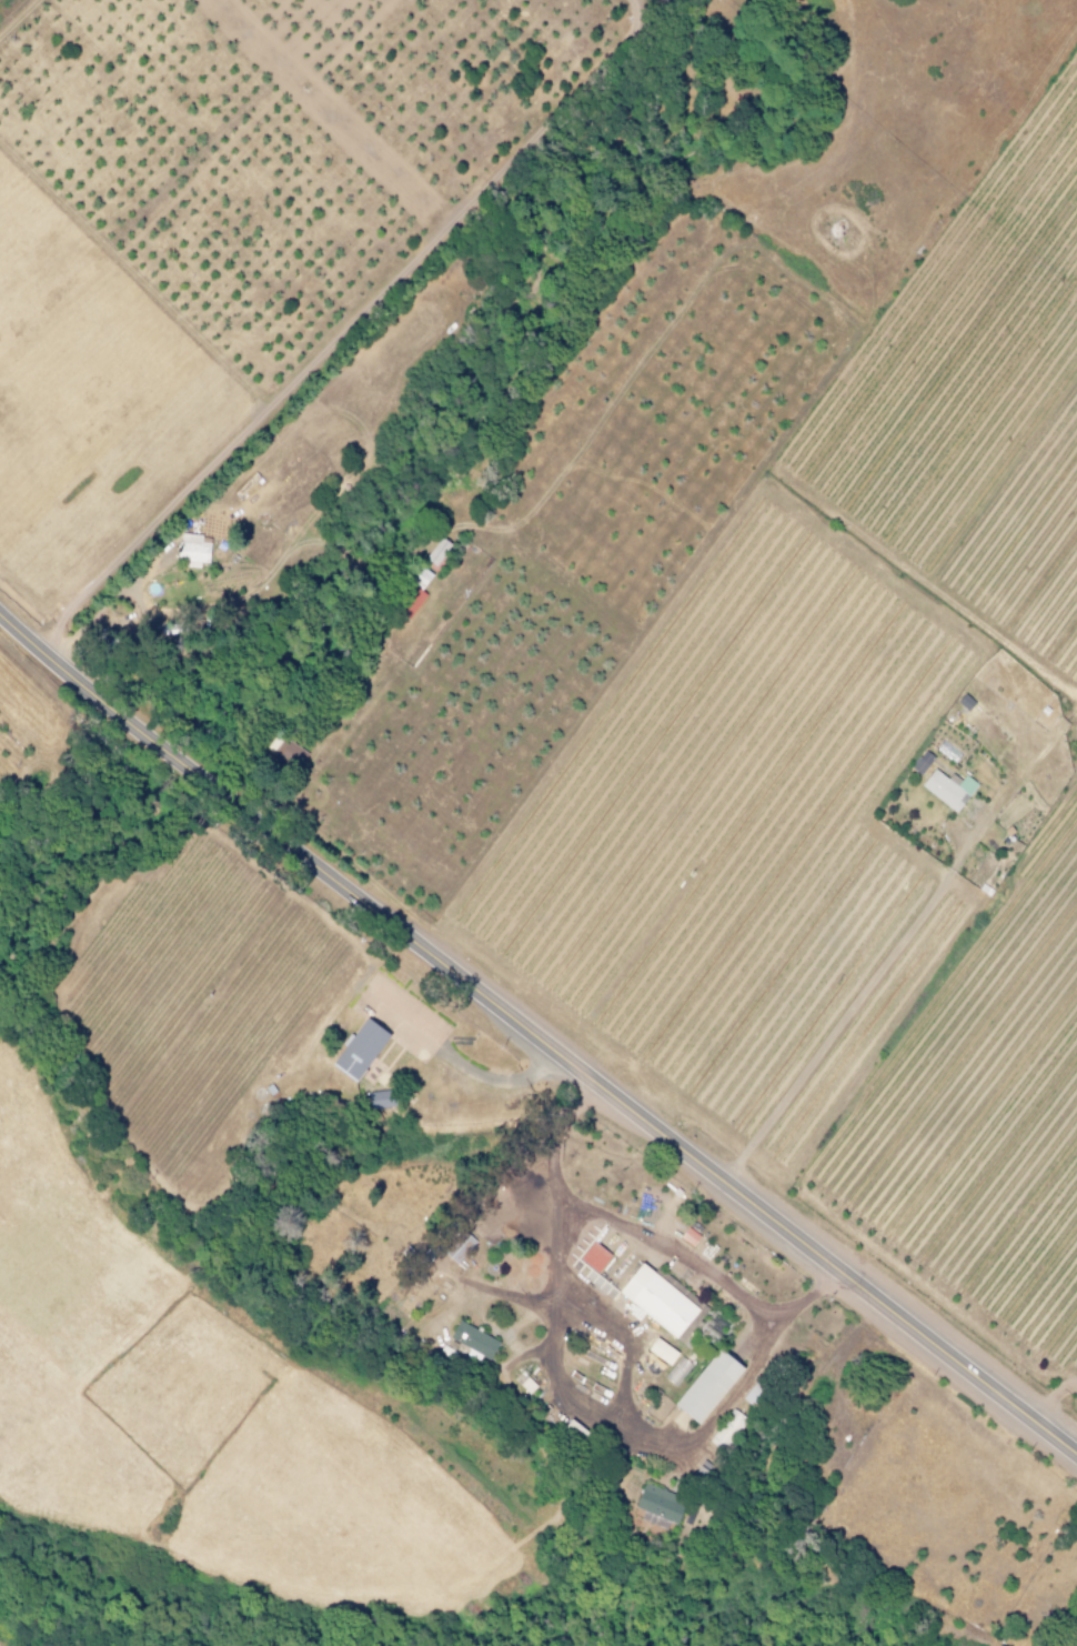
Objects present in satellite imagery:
building: (192, 550)
building: (435, 551)
building: (412, 592)
building: (963, 702)
building: (283, 752)
building: (947, 789)
road: (896, 943)
parking lot: (396, 1017)
road: (535, 1038)
building: (351, 1048)
road: (452, 1061)
road: (644, 1234)
building: (457, 1246)
building: (646, 1299)
building: (463, 1341)
building: (652, 1351)
building: (670, 1373)
building: (695, 1386)
building: (726, 1429)
building: (656, 1503)

